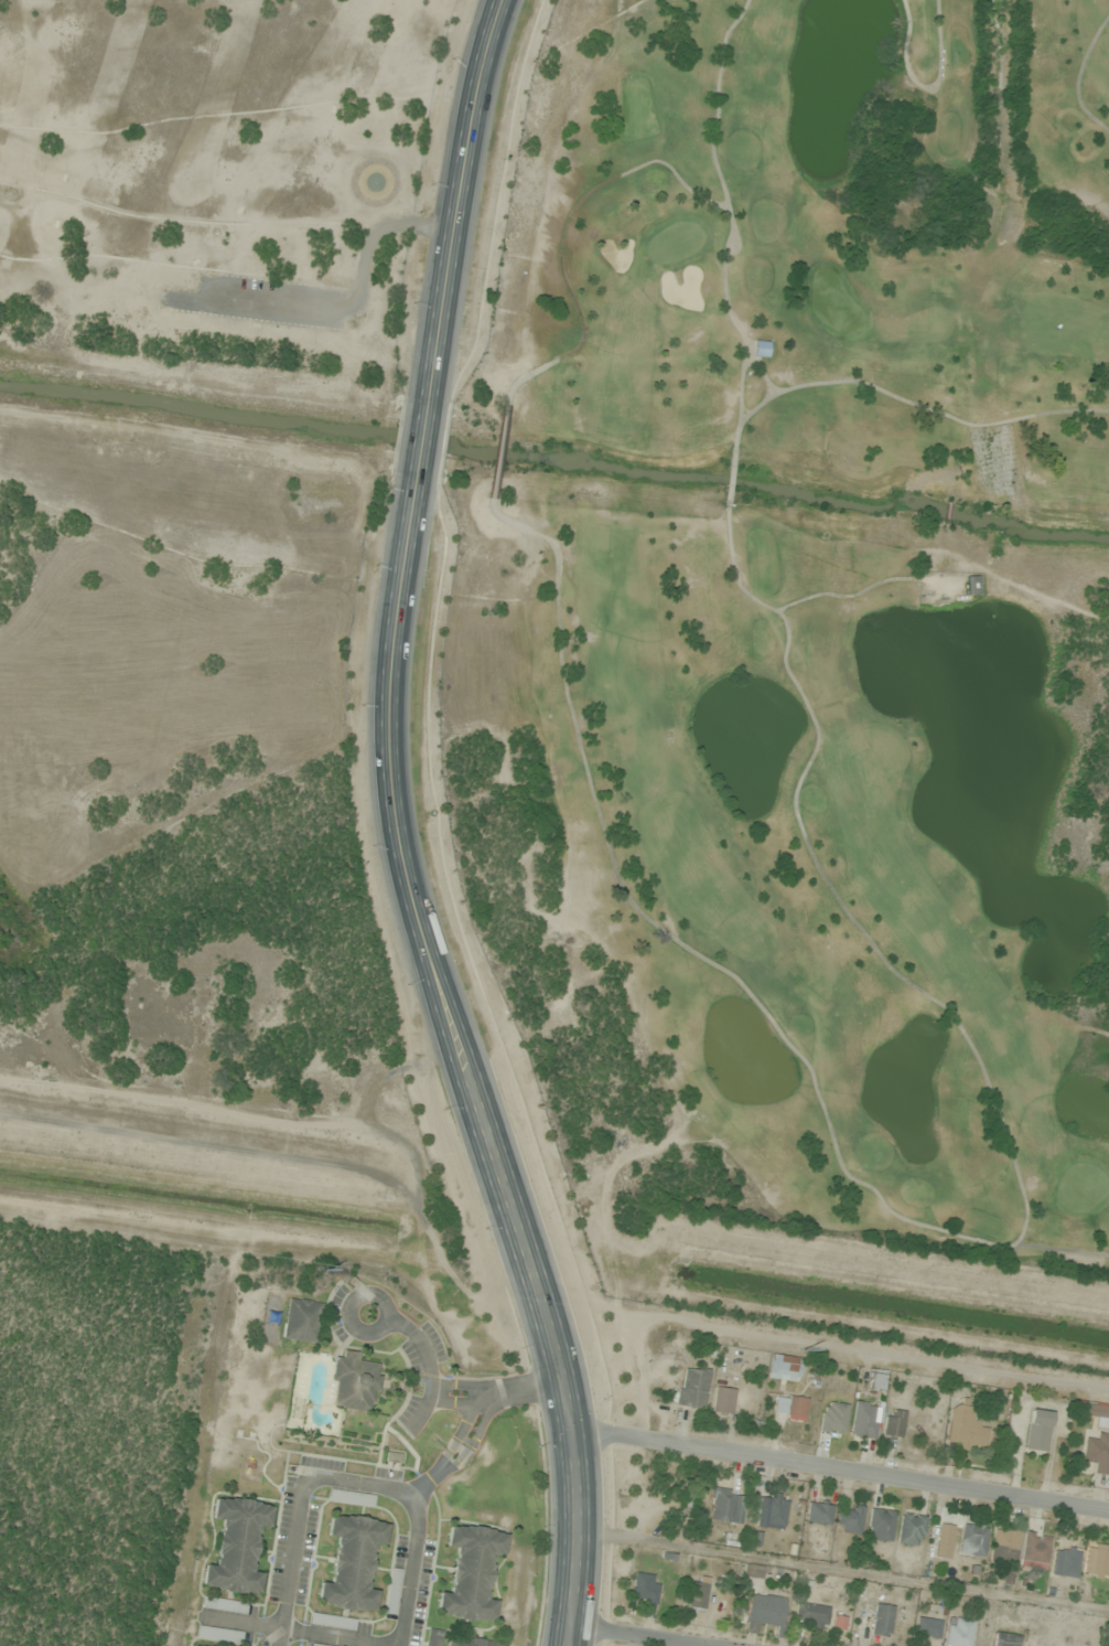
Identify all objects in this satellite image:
park: (219, 193)
road: (460, 197)
parking lot: (261, 301)
road: (346, 308)
building: (760, 349)
road: (423, 438)
building: (970, 586)
park: (822, 595)
road: (466, 1056)
road: (381, 1319)
building: (301, 1321)
road: (424, 1366)
building: (784, 1368)
building: (875, 1380)
building: (352, 1383)
building: (691, 1388)
road: (492, 1392)
building: (722, 1400)
building: (789, 1405)
building: (1096, 1413)
building: (832, 1418)
building: (863, 1420)
building: (892, 1423)
building: (963, 1429)
building: (1036, 1431)
building: (1097, 1453)
road: (452, 1454)
road: (840, 1469)
road: (347, 1481)
building: (351, 1498)
building: (725, 1506)
building: (771, 1513)
building: (818, 1514)
building: (849, 1519)
building: (880, 1525)
building: (909, 1530)
building: (972, 1540)
building: (943, 1541)
building: (236, 1546)
building: (1003, 1546)
building: (1034, 1549)
building: (1096, 1560)
building: (1064, 1561)
building: (352, 1563)
building: (753, 1571)
building: (471, 1573)
building: (645, 1589)
building: (392, 1591)
building: (697, 1594)
building: (763, 1613)
building: (811, 1615)
building: (881, 1621)
building: (926, 1627)
road: (293, 1631)
building: (958, 1632)
building: (432, 1637)
road: (571, 1638)
road: (621, 1638)
building: (1004, 1639)
building: (471, 1642)
building: (193, 1645)

